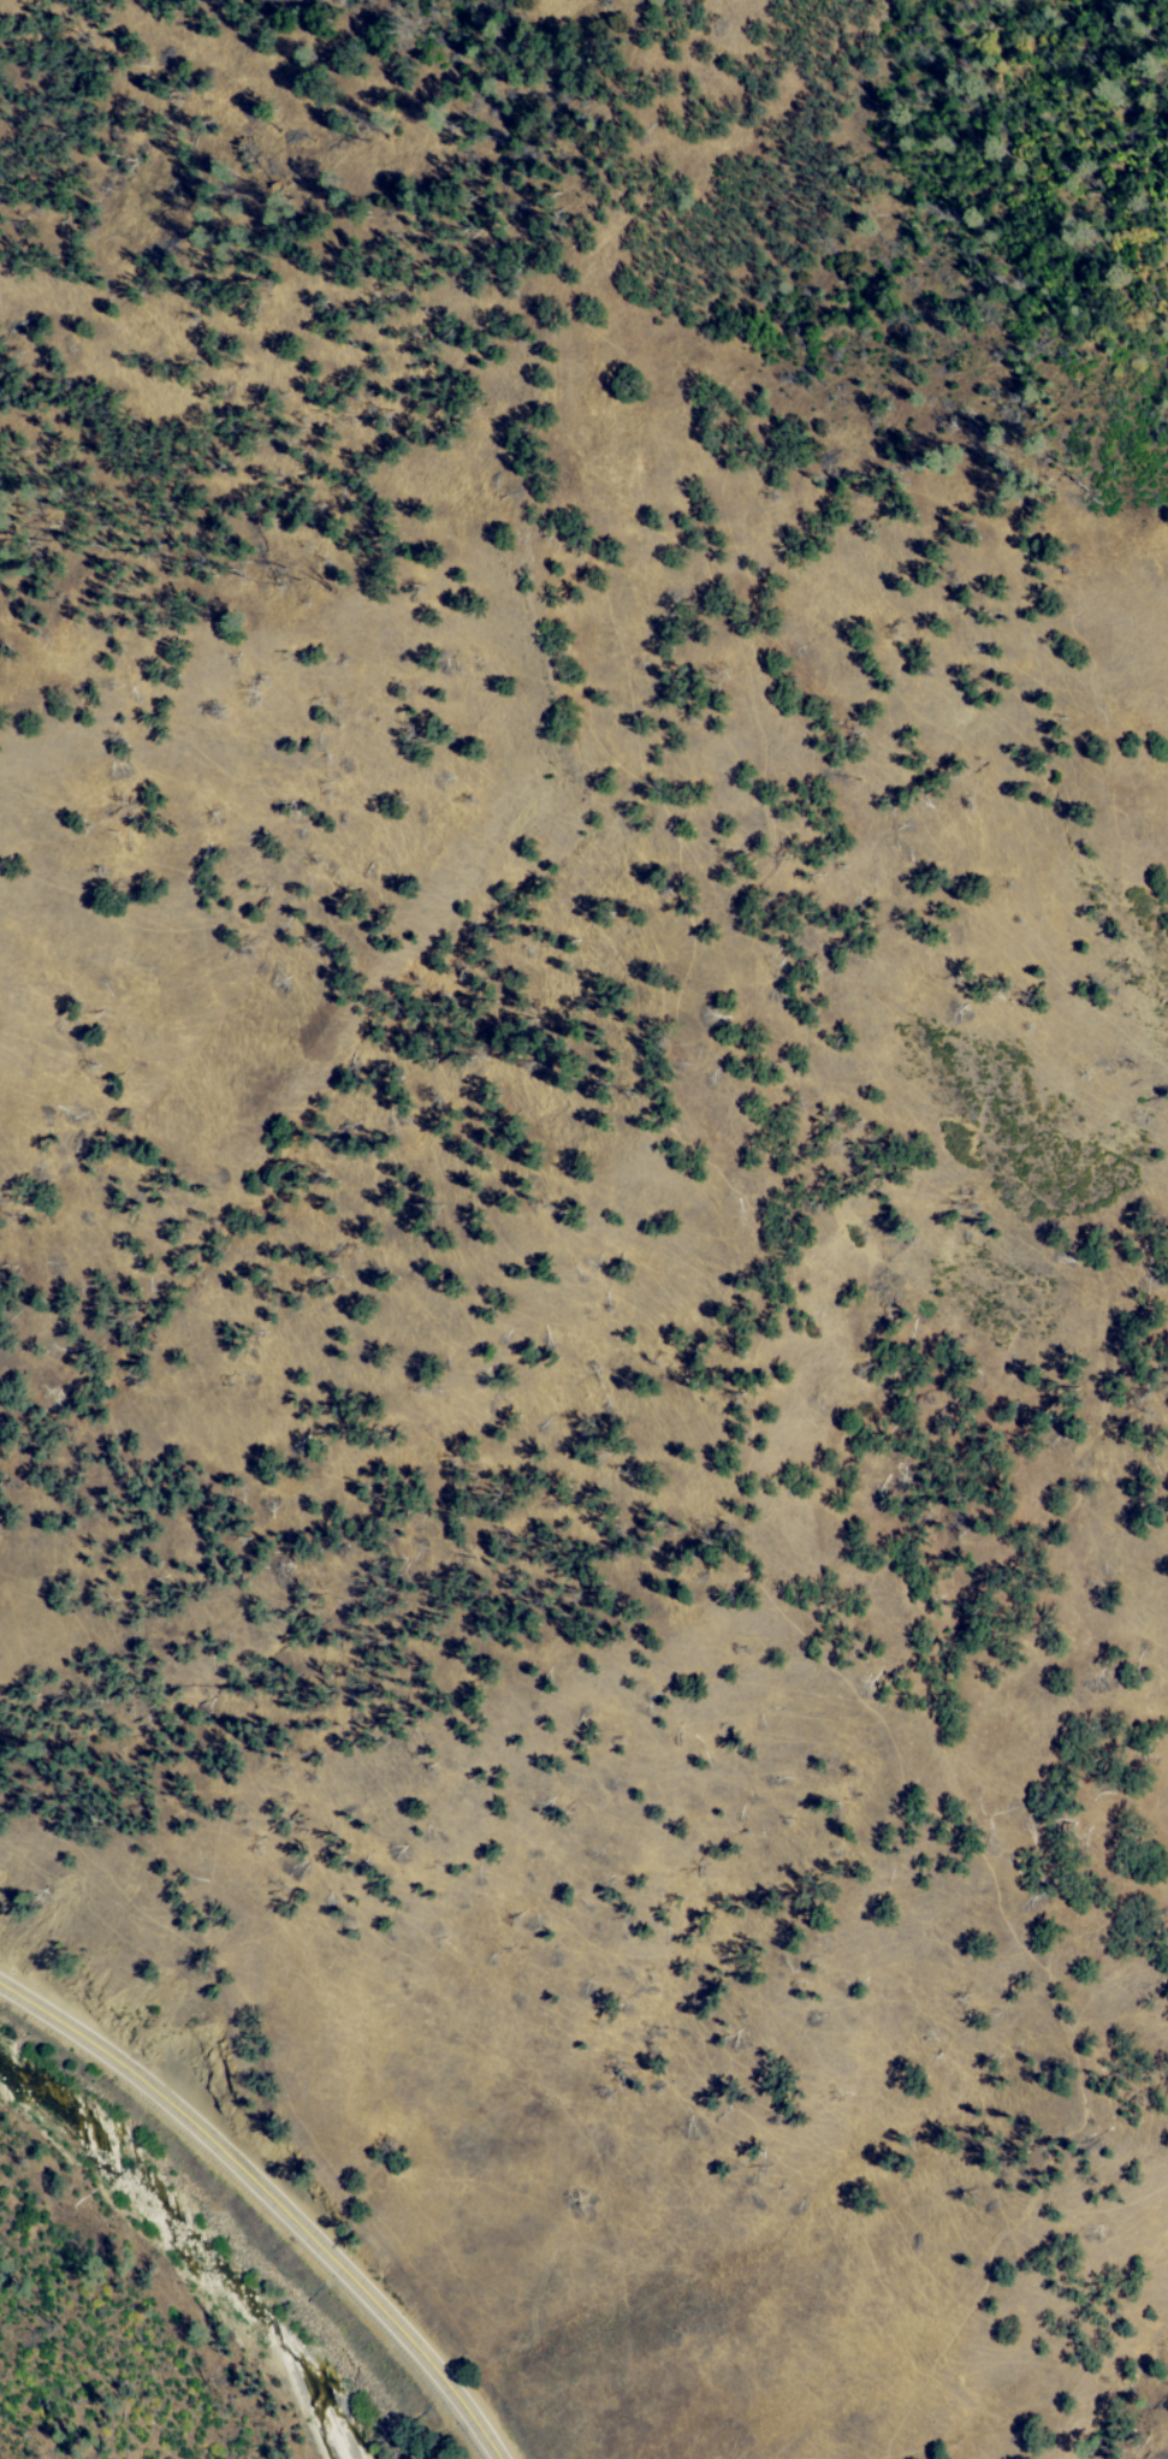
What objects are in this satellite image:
road: (265, 2204)

